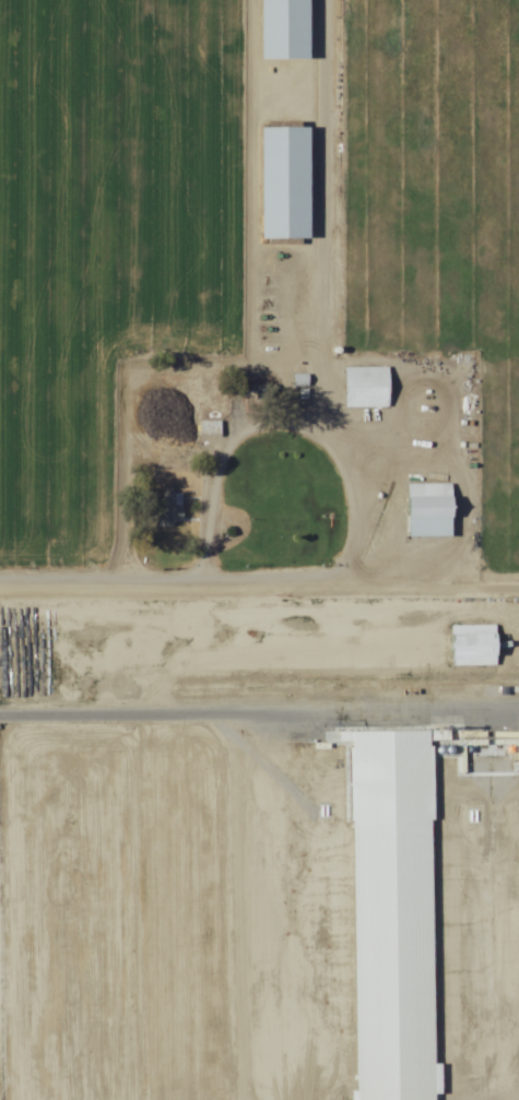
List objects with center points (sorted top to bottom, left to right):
building: (285, 29)
building: (286, 184)
road: (299, 208)
building: (366, 388)
building: (264, 394)
building: (209, 430)
building: (168, 508)
building: (429, 511)
building: (473, 647)

